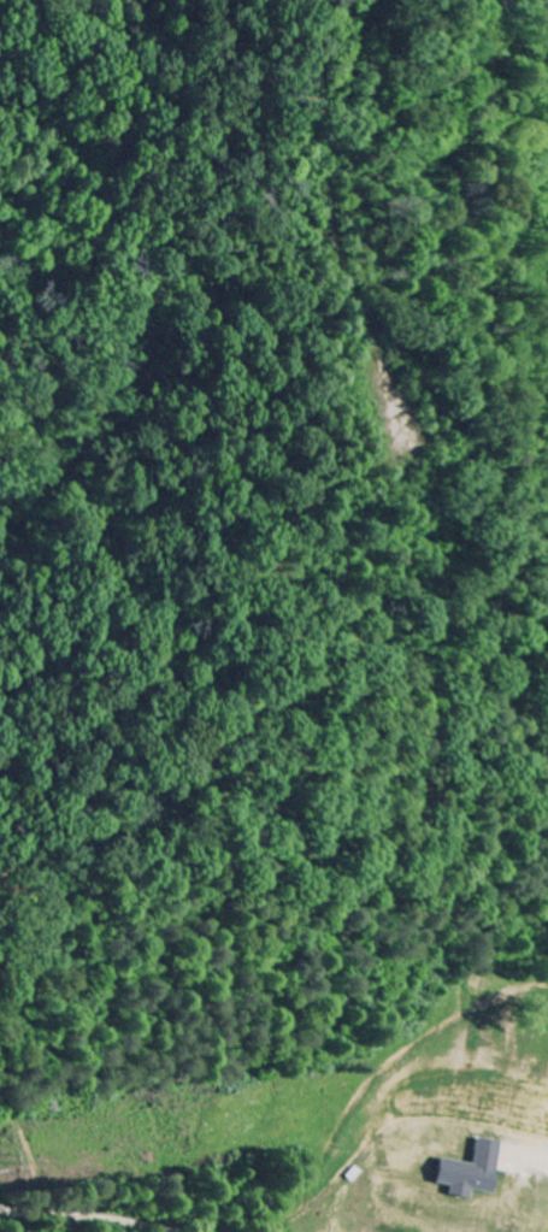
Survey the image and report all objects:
power tower: (19, 1156)
building: (469, 1172)
road: (95, 1215)

